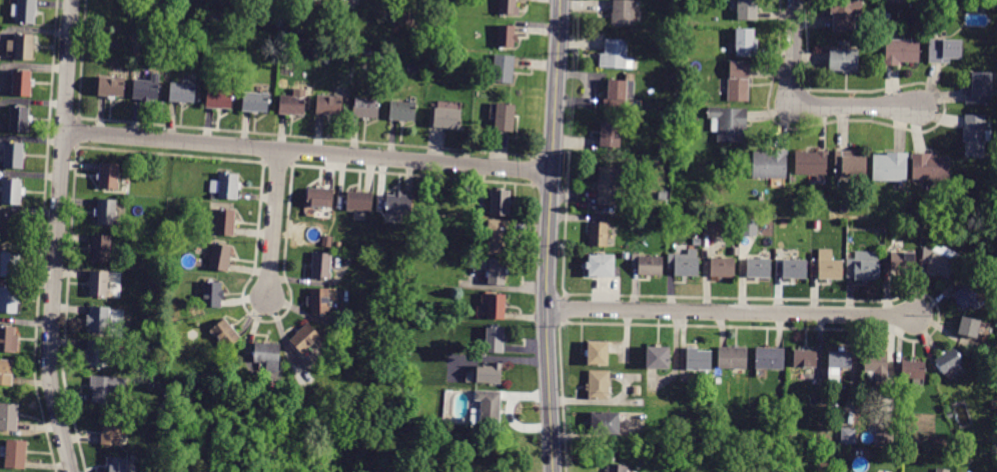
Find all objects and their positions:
building: (961, 1)
building: (918, 2)
building: (508, 7)
building: (747, 10)
building: (25, 11)
building: (622, 12)
building: (845, 14)
building: (214, 19)
building: (280, 24)
building: (412, 24)
building: (316, 27)
building: (507, 36)
building: (746, 43)
building: (22, 45)
building: (666, 49)
building: (944, 50)
building: (901, 51)
building: (615, 55)
building: (844, 60)
building: (503, 69)
building: (738, 81)
building: (22, 83)
building: (629, 85)
building: (112, 87)
building: (979, 88)
building: (147, 89)
building: (182, 92)
building: (615, 94)
building: (219, 99)
building: (681, 99)
building: (256, 102)
building: (293, 103)
building: (329, 104)
road: (800, 105)
building: (366, 108)
building: (403, 111)
building: (670, 112)
building: (447, 115)
building: (504, 117)
building: (19, 119)
building: (728, 123)
building: (610, 135)
building: (975, 136)
building: (664, 148)
road: (308, 151)
building: (13, 155)
building: (811, 163)
building: (849, 164)
building: (770, 166)
building: (890, 167)
building: (930, 167)
building: (108, 176)
building: (225, 187)
building: (610, 187)
building: (12, 191)
building: (320, 198)
building: (360, 201)
building: (500, 202)
building: (399, 205)
building: (106, 212)
building: (664, 221)
building: (225, 222)
road: (273, 223)
building: (713, 227)
building: (749, 227)
building: (10, 228)
building: (916, 228)
building: (599, 234)
road: (550, 236)
road: (57, 237)
building: (498, 237)
building: (696, 242)
building: (122, 247)
building: (101, 248)
building: (882, 248)
building: (734, 251)
building: (625, 256)
building: (220, 257)
building: (940, 260)
building: (903, 261)
building: (964, 261)
building: (11, 264)
building: (684, 264)
building: (321, 265)
building: (650, 265)
building: (600, 266)
building: (829, 266)
building: (863, 266)
building: (722, 267)
building: (758, 268)
building: (794, 269)
building: (497, 272)
building: (99, 283)
building: (212, 294)
building: (967, 298)
building: (8, 300)
building: (319, 301)
building: (496, 306)
road: (731, 313)
building: (99, 319)
building: (969, 327)
building: (226, 334)
building: (305, 338)
building: (8, 340)
building: (495, 340)
building: (97, 353)
building: (597, 353)
building: (978, 354)
building: (268, 355)
building: (732, 357)
building: (658, 358)
building: (769, 358)
building: (805, 358)
building: (698, 359)
building: (948, 361)
building: (838, 363)
building: (876, 364)
building: (913, 369)
building: (6, 372)
building: (490, 374)
building: (599, 385)
building: (107, 388)
building: (273, 392)
building: (168, 394)
building: (639, 403)
building: (994, 406)
building: (486, 409)
building: (8, 416)
building: (605, 423)
building: (993, 425)
building: (111, 433)
building: (883, 435)
building: (848, 436)
building: (781, 441)
building: (161, 448)
building: (16, 454)
building: (134, 457)
building: (116, 464)
building: (616, 468)
building: (942, 470)
building: (882, 471)

